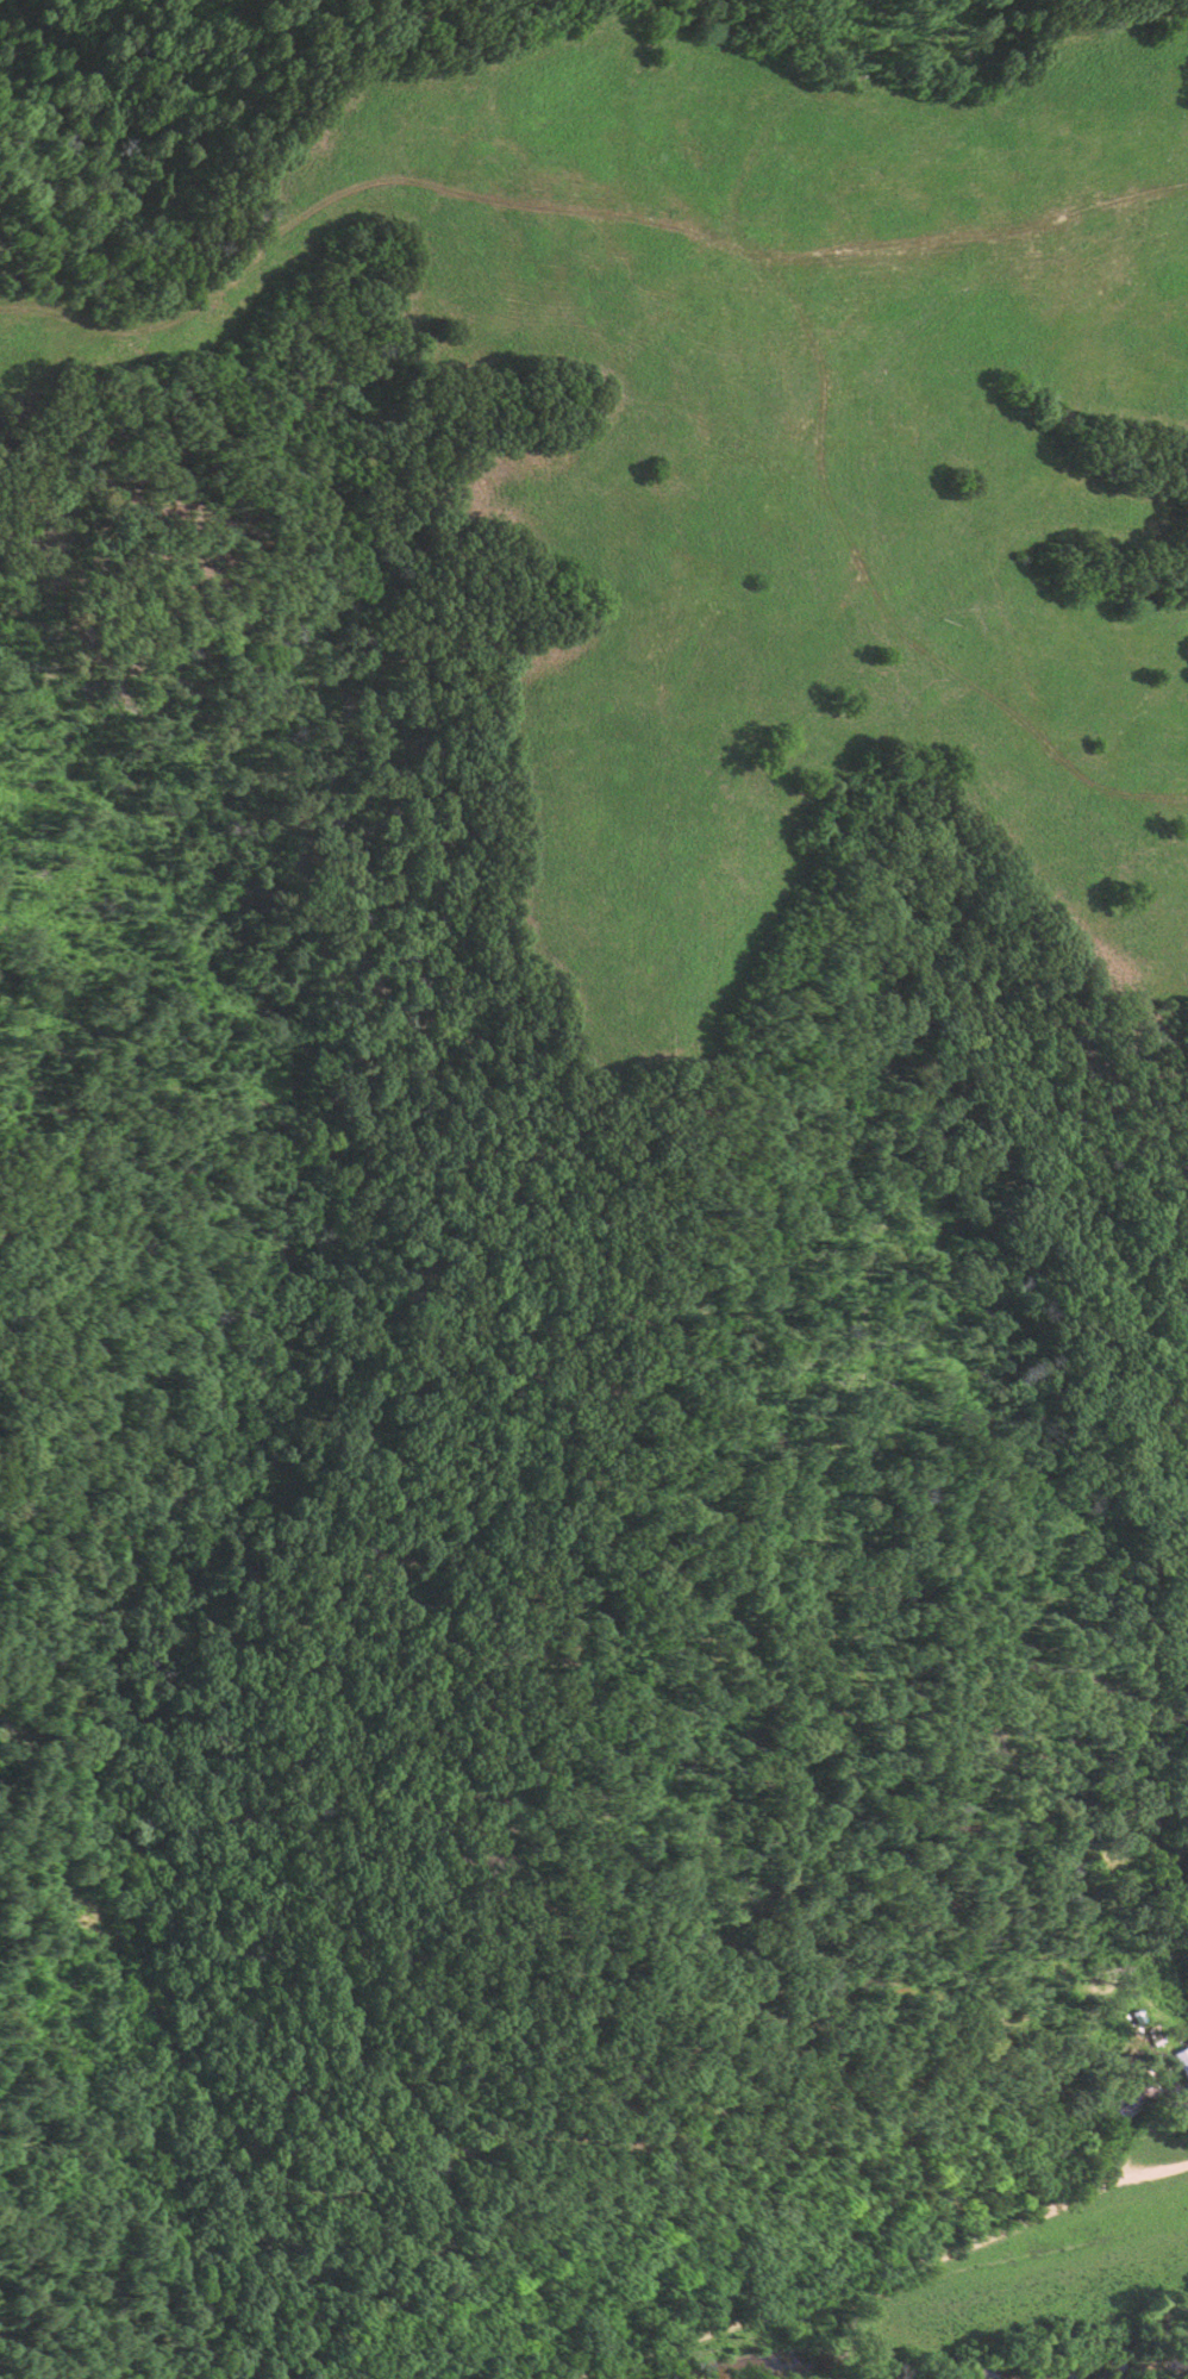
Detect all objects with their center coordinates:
road: (900, 2275)

